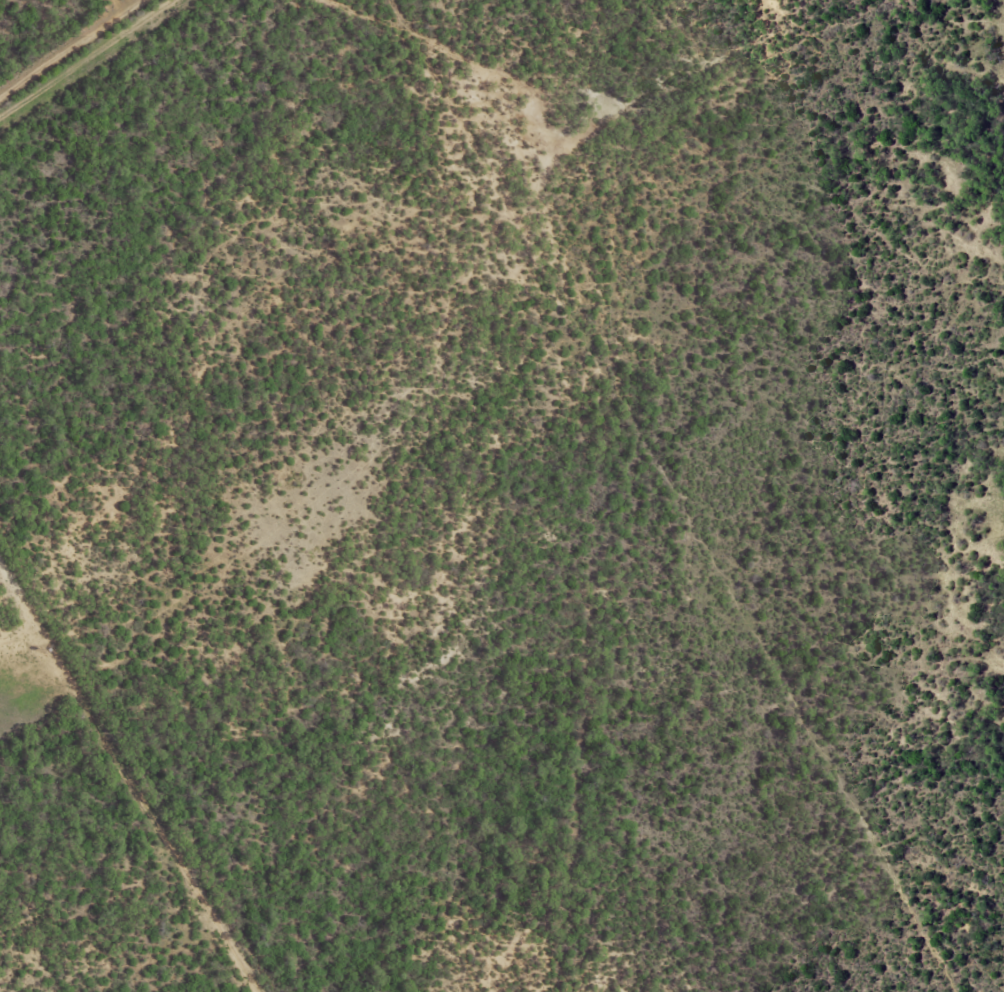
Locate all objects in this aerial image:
road: (195, 42)
road: (103, 104)
road: (602, 427)

